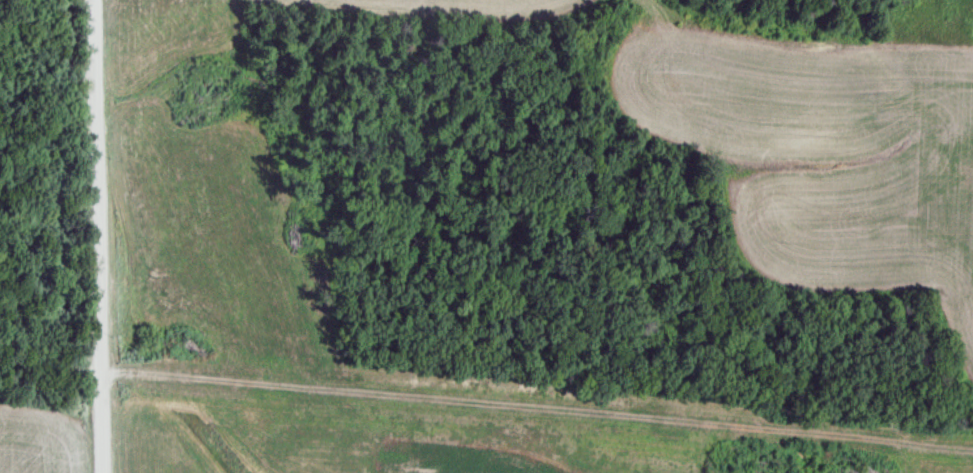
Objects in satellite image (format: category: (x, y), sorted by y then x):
road: (450, 11)
road: (795, 36)
road: (101, 236)

